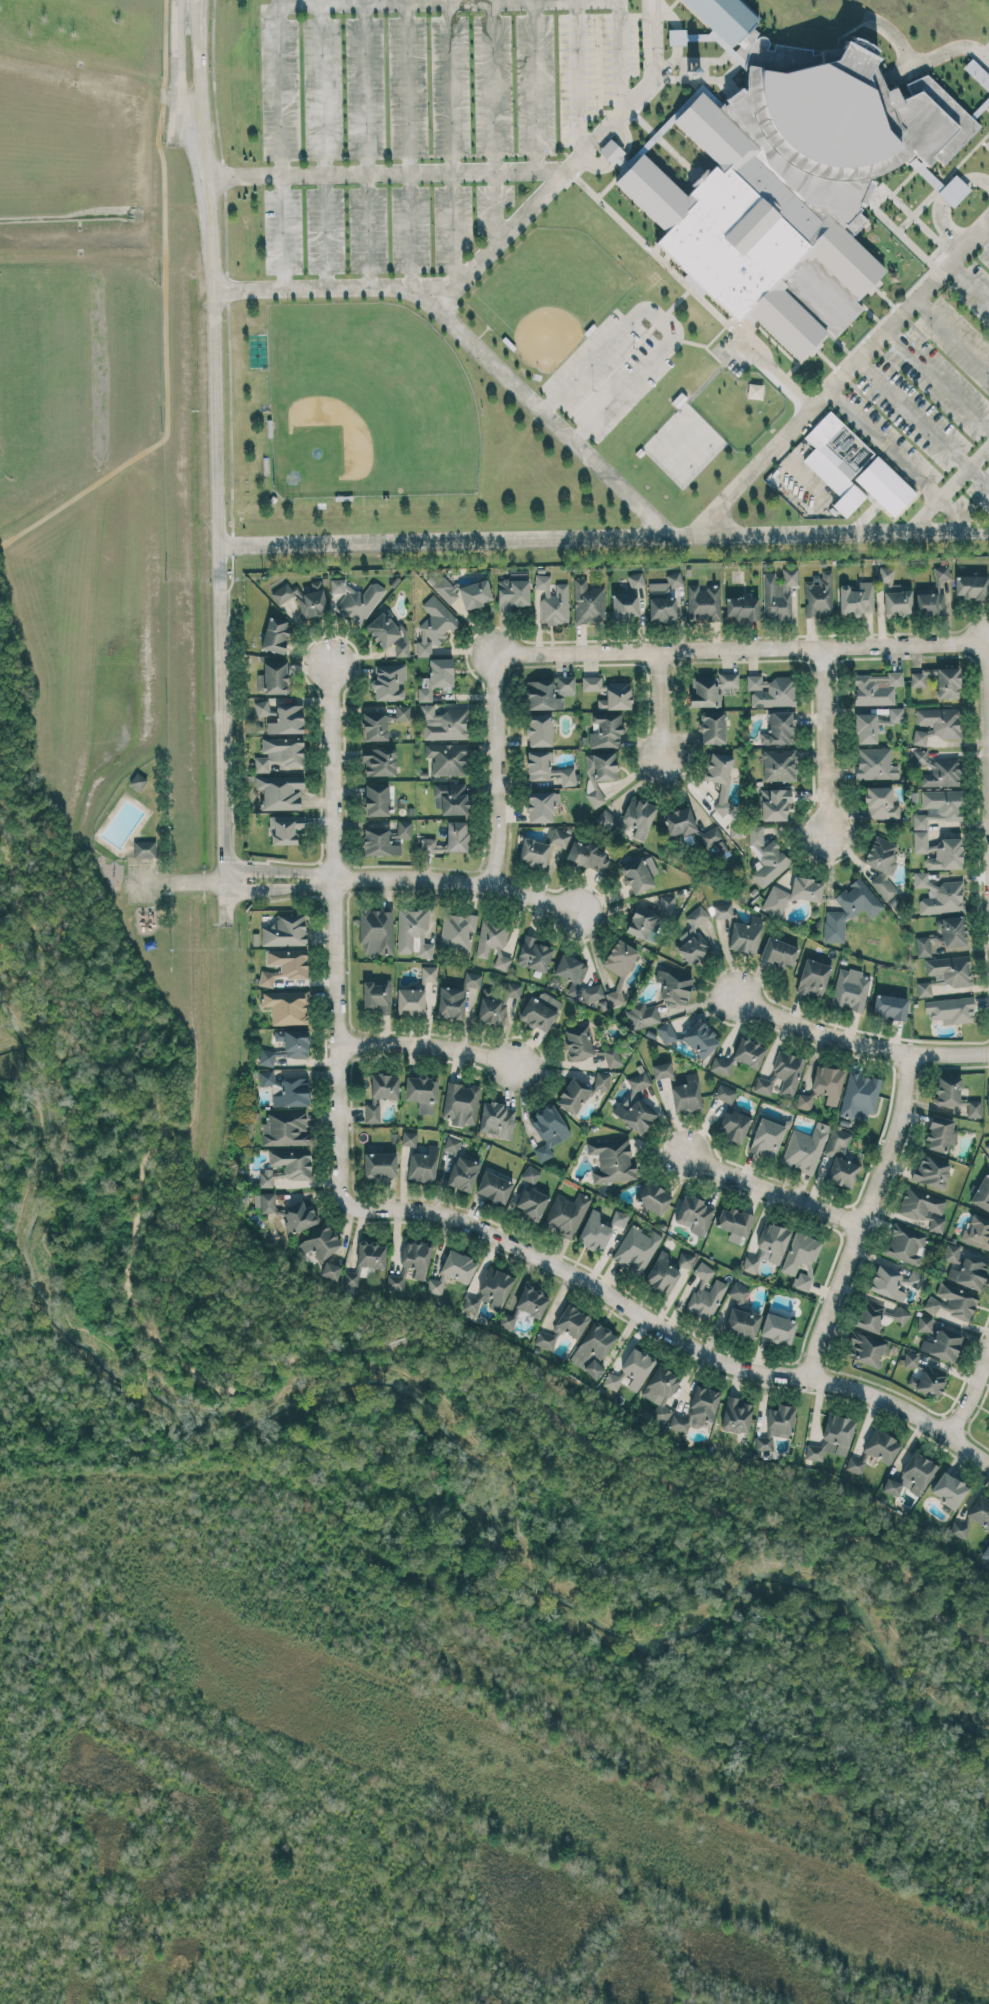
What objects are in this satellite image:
road: (322, 5)
road: (647, 8)
road: (655, 8)
building: (723, 18)
building: (676, 36)
road: (621, 54)
road: (200, 56)
road: (174, 58)
road: (923, 60)
building: (977, 73)
road: (579, 76)
road: (535, 85)
road: (451, 86)
road: (492, 86)
road: (365, 88)
road: (407, 88)
road: (322, 90)
parking lot: (426, 128)
building: (613, 153)
road: (384, 172)
building: (954, 190)
road: (496, 205)
road: (453, 228)
road: (368, 230)
road: (325, 232)
road: (412, 232)
road: (283, 233)
road: (982, 233)
building: (728, 240)
road: (486, 252)
road: (967, 281)
road: (164, 316)
road: (659, 320)
road: (951, 332)
road: (844, 373)
road: (937, 376)
parking lot: (933, 382)
park: (365, 402)
road: (550, 421)
road: (923, 422)
road: (901, 462)
building: (853, 468)
road: (949, 489)
road: (220, 516)
road: (604, 537)
building: (971, 586)
building: (445, 588)
building: (475, 593)
building: (512, 593)
building: (933, 593)
building: (778, 594)
building: (895, 594)
building: (819, 595)
building: (304, 598)
building: (855, 598)
building: (627, 599)
building: (664, 599)
building: (354, 600)
building: (553, 600)
building: (703, 601)
building: (588, 602)
building: (742, 608)
building: (434, 625)
building: (275, 634)
building: (388, 634)
road: (738, 648)
road: (986, 654)
building: (273, 676)
building: (436, 678)
building: (728, 679)
building: (938, 680)
building: (389, 681)
building: (876, 688)
building: (771, 690)
building: (704, 691)
building: (549, 692)
building: (609, 692)
road: (657, 704)
building: (263, 708)
building: (403, 712)
building: (896, 714)
building: (288, 719)
building: (376, 723)
building: (443, 723)
building: (936, 724)
building: (712, 727)
building: (866, 727)
building: (778, 728)
building: (539, 729)
building: (605, 730)
road: (824, 741)
building: (280, 752)
building: (447, 758)
building: (379, 761)
building: (875, 763)
building: (779, 764)
building: (548, 769)
building: (937, 769)
road: (495, 770)
building: (599, 773)
building: (720, 776)
building: (137, 780)
building: (280, 791)
building: (451, 797)
building: (377, 799)
building: (881, 802)
building: (774, 803)
building: (542, 804)
building: (937, 807)
building: (639, 815)
building: (680, 821)
building: (285, 828)
building: (404, 829)
building: (457, 835)
building: (711, 835)
building: (557, 837)
building: (379, 842)
building: (431, 845)
building: (144, 848)
building: (938, 851)
building: (533, 852)
building: (587, 855)
building: (766, 856)
building: (882, 864)
road: (280, 870)
building: (639, 873)
road: (174, 880)
road: (461, 880)
road: (280, 886)
building: (792, 894)
building: (939, 894)
building: (667, 904)
road: (19, 907)
building: (849, 908)
building: (723, 910)
building: (696, 916)
road: (2, 918)
building: (640, 922)
building: (376, 929)
building: (285, 930)
building: (457, 931)
building: (413, 932)
building: (949, 932)
road: (335, 933)
building: (745, 935)
building: (493, 942)
building: (922, 946)
building: (692, 947)
building: (779, 951)
building: (534, 954)
building: (284, 965)
building: (571, 972)
building: (429, 973)
building: (944, 973)
building: (813, 978)
building: (472, 979)
building: (674, 986)
building: (850, 989)
building: (592, 992)
building: (378, 994)
building: (410, 1001)
building: (450, 1002)
building: (496, 1004)
building: (287, 1006)
building: (890, 1006)
building: (952, 1009)
building: (540, 1011)
building: (642, 1015)
road: (815, 1031)
building: (666, 1032)
building: (700, 1038)
building: (578, 1042)
building: (287, 1045)
road: (428, 1045)
building: (749, 1052)
road: (947, 1054)
building: (612, 1057)
building: (720, 1065)
building: (662, 1069)
building: (781, 1075)
building: (266, 1077)
building: (601, 1080)
building: (823, 1086)
building: (948, 1090)
building: (292, 1092)
building: (421, 1092)
building: (380, 1093)
building: (686, 1093)
building: (725, 1093)
building: (573, 1095)
building: (859, 1095)
building: (988, 1100)
building: (461, 1103)
building: (635, 1105)
building: (974, 1108)
building: (496, 1119)
building: (733, 1125)
building: (286, 1129)
building: (547, 1130)
building: (940, 1133)
building: (766, 1137)
building: (409, 1138)
building: (452, 1143)
building: (805, 1147)
building: (987, 1148)
building: (840, 1159)
building: (612, 1160)
building: (380, 1164)
building: (423, 1164)
building: (286, 1165)
building: (931, 1171)
building: (463, 1172)
building: (531, 1174)
building: (494, 1186)
road: (769, 1191)
building: (982, 1193)
building: (653, 1197)
building: (264, 1201)
building: (531, 1203)
building: (923, 1207)
building: (566, 1214)
building: (694, 1214)
road: (861, 1215)
building: (299, 1216)
building: (619, 1217)
building: (734, 1223)
building: (594, 1230)
building: (977, 1231)
building: (773, 1241)
building: (319, 1242)
building: (905, 1243)
building: (636, 1247)
building: (800, 1252)
building: (952, 1252)
building: (416, 1257)
building: (685, 1259)
building: (750, 1263)
building: (365, 1264)
building: (458, 1266)
building: (330, 1270)
building: (969, 1272)
building: (662, 1273)
building: (804, 1276)
building: (916, 1278)
building: (396, 1281)
building: (886, 1282)
building: (435, 1285)
building: (490, 1290)
building: (738, 1291)
building: (705, 1293)
building: (952, 1300)
building: (531, 1301)
building: (901, 1314)
building: (510, 1319)
building: (742, 1322)
building: (924, 1323)
building: (563, 1326)
building: (778, 1328)
road: (671, 1333)
building: (942, 1345)
road: (352, 1348)
building: (593, 1348)
building: (866, 1348)
building: (911, 1358)
building: (637, 1367)
building: (613, 1380)
building: (928, 1380)
road: (968, 1384)
building: (660, 1392)
river: (423, 1401)
road: (456, 1409)
building: (698, 1409)
building: (736, 1414)
building: (776, 1425)
building: (988, 1429)
building: (833, 1437)
road: (438, 1446)
building: (881, 1446)
building: (854, 1464)
building: (911, 1476)
building: (948, 1489)
building: (980, 1511)
building: (957, 1529)
building: (986, 1553)

